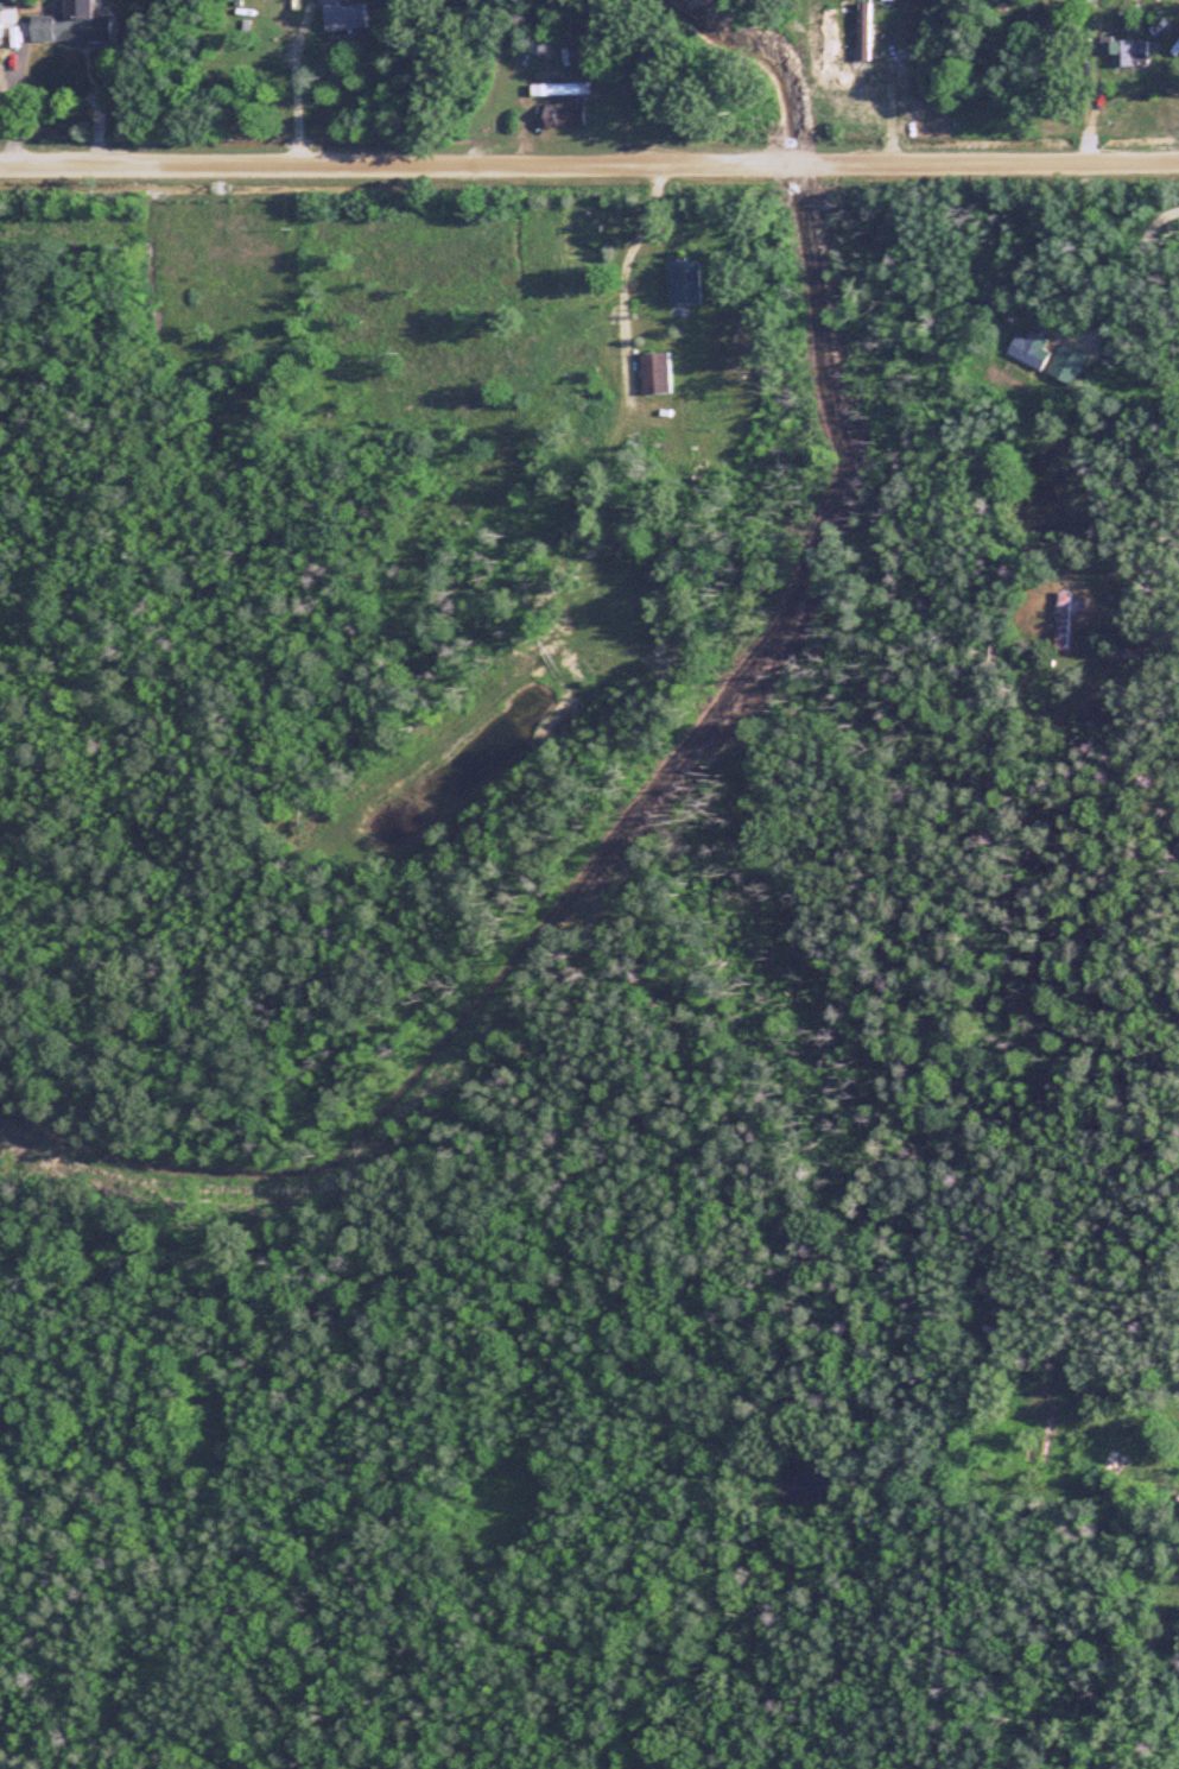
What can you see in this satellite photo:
building: (7, 4)
building: (343, 17)
building: (69, 24)
building: (565, 32)
building: (1124, 53)
building: (860, 81)
building: (626, 86)
road: (285, 96)
building: (559, 114)
road: (589, 166)
building: (680, 282)
road: (1139, 286)
building: (1028, 349)
building: (654, 373)
building: (1061, 620)
road: (1095, 631)
road: (1159, 646)
building: (1142, 1473)

